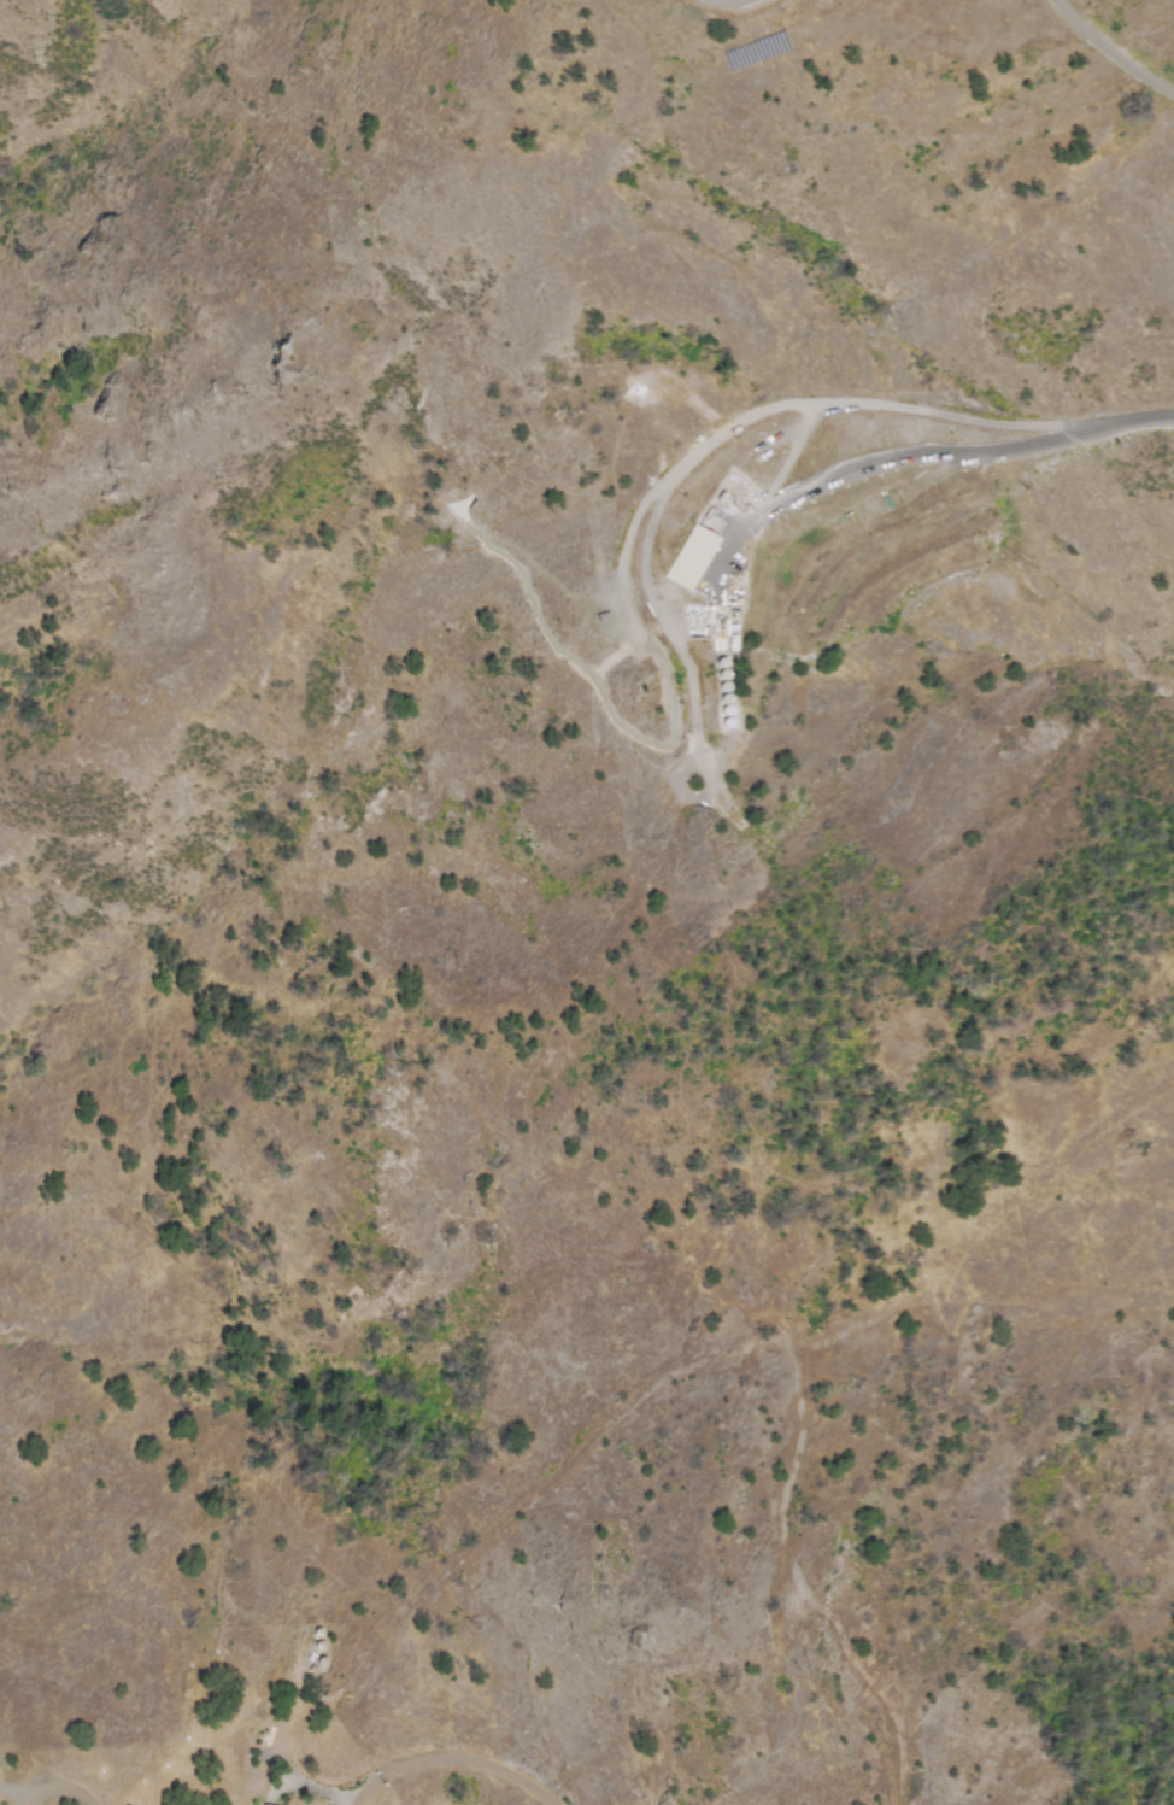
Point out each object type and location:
road: (699, 2)
road: (1100, 59)
road: (952, 414)
road: (452, 1759)
road: (58, 1789)
building: (262, 1804)

